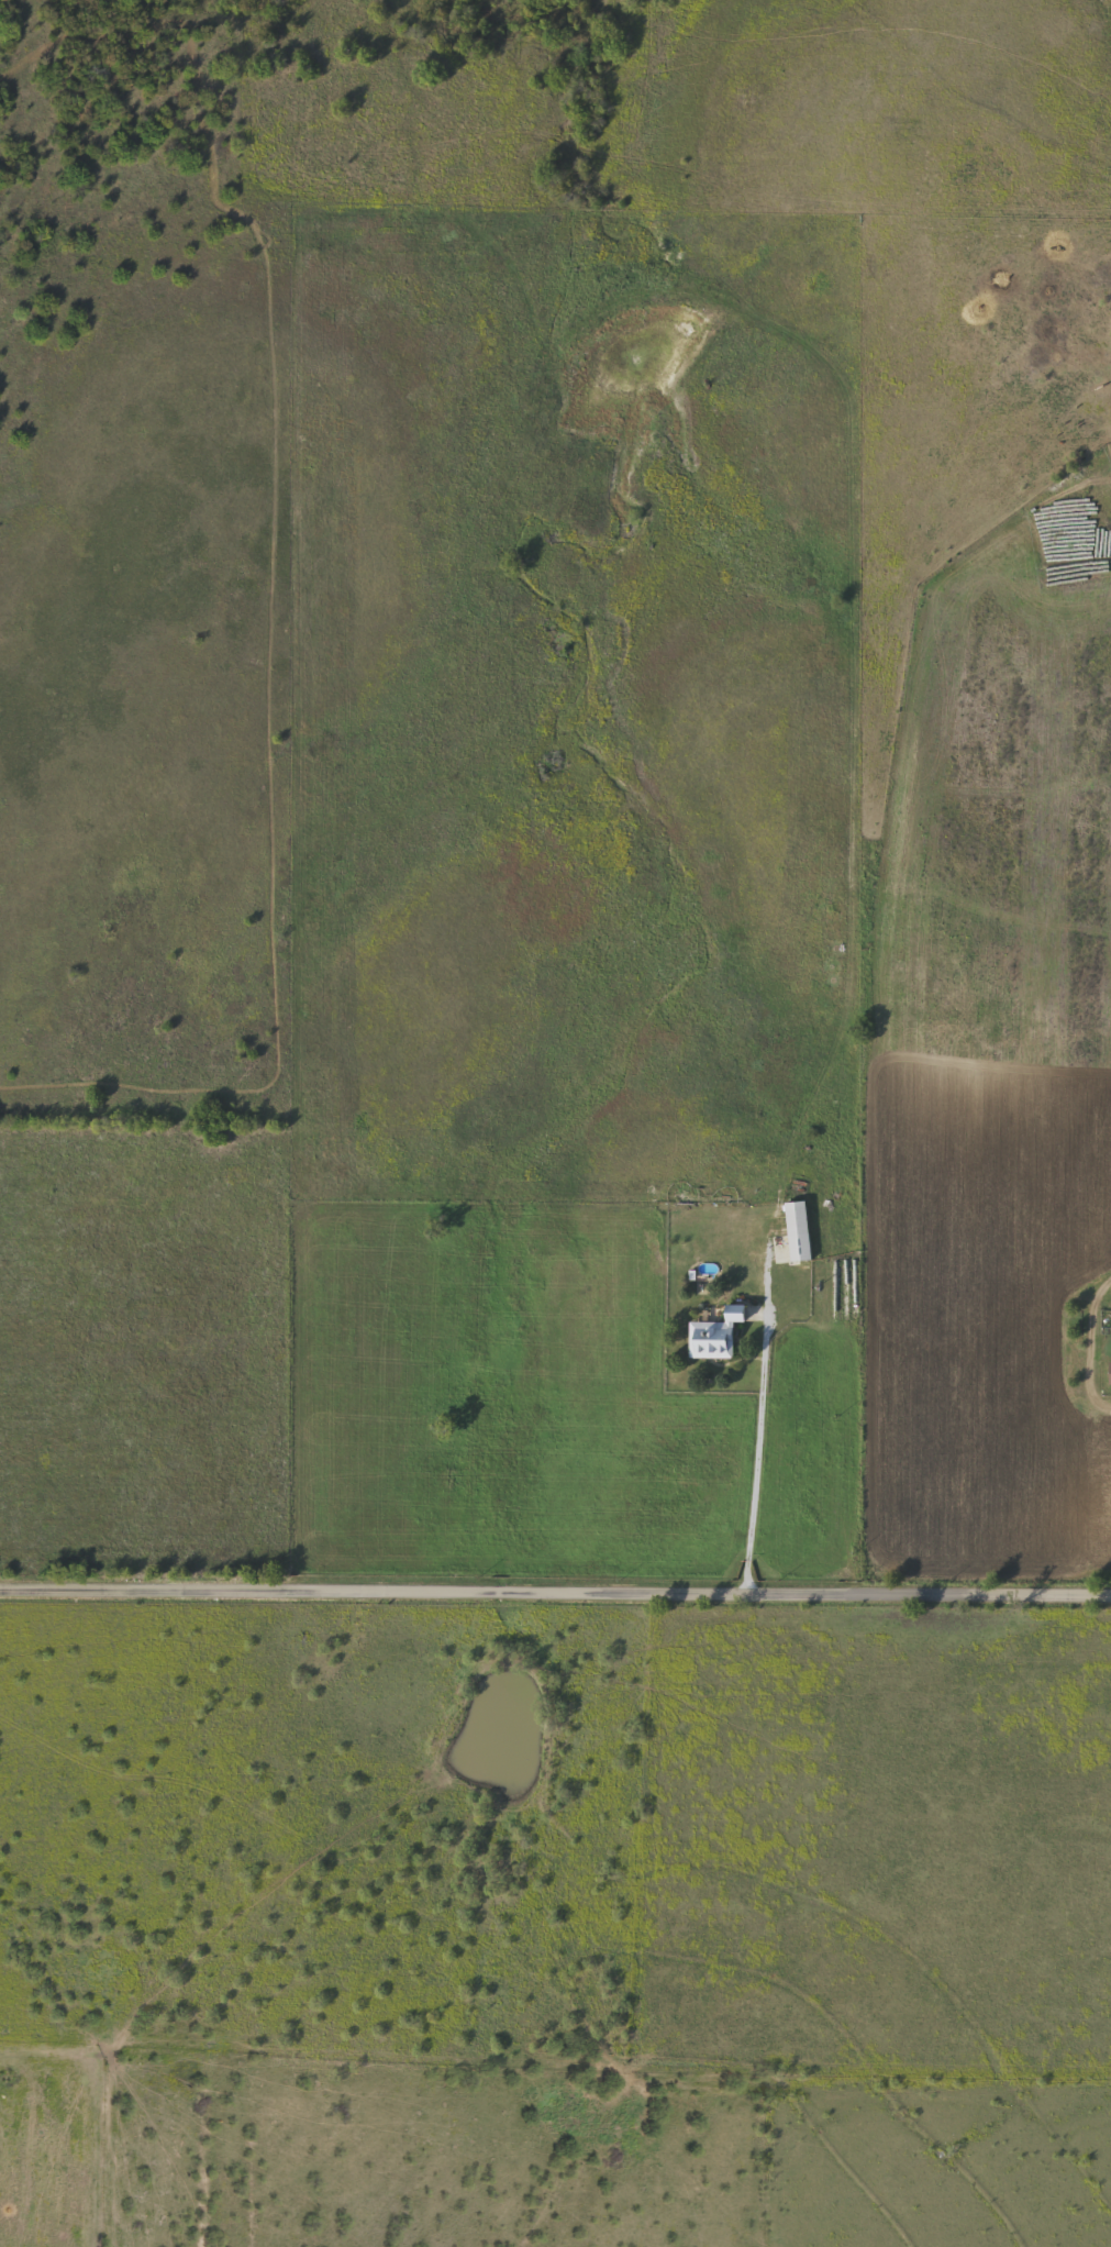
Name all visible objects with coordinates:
building: (800, 1230)
building: (716, 1333)
road: (758, 1454)
road: (555, 1592)

